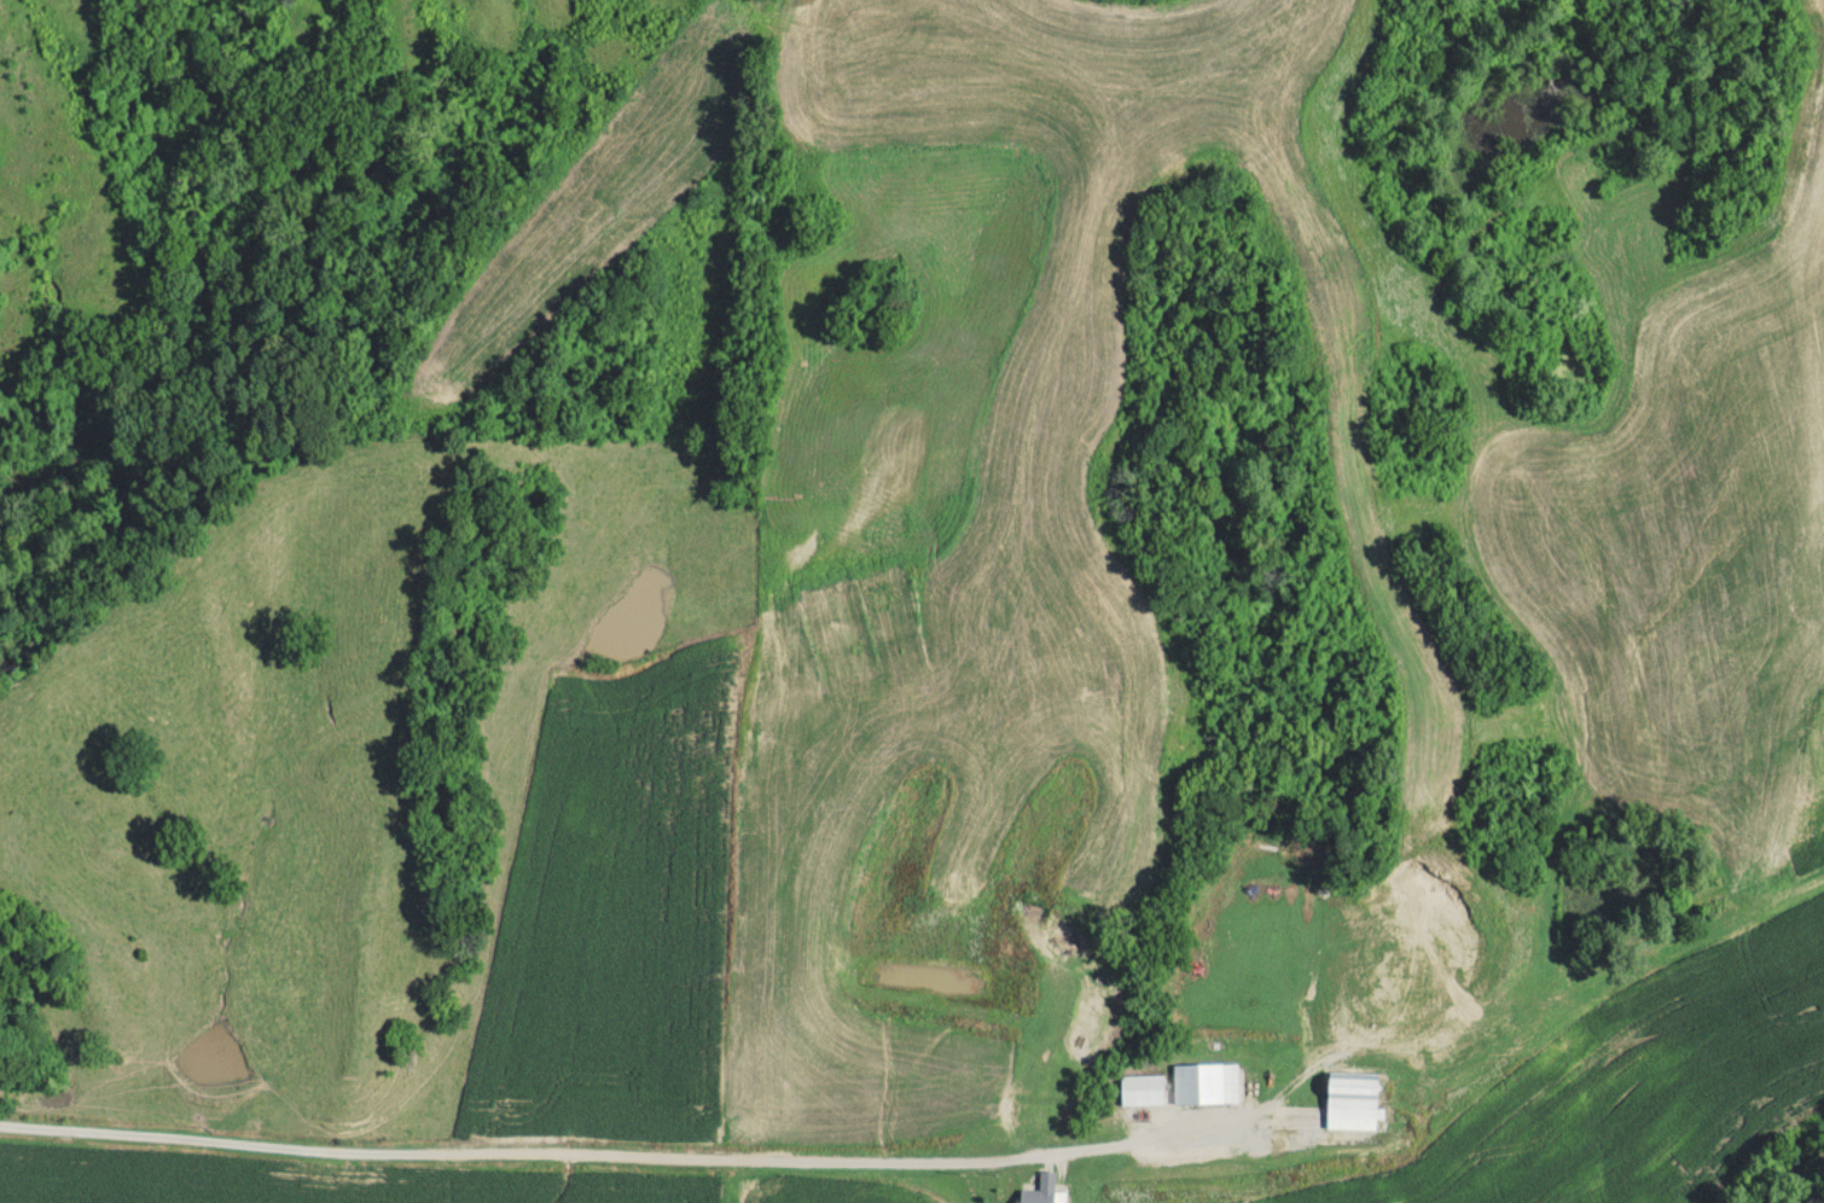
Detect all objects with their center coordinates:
building: (1201, 1083)
building: (1146, 1091)
building: (1355, 1096)
road: (615, 1150)
building: (1044, 1190)

